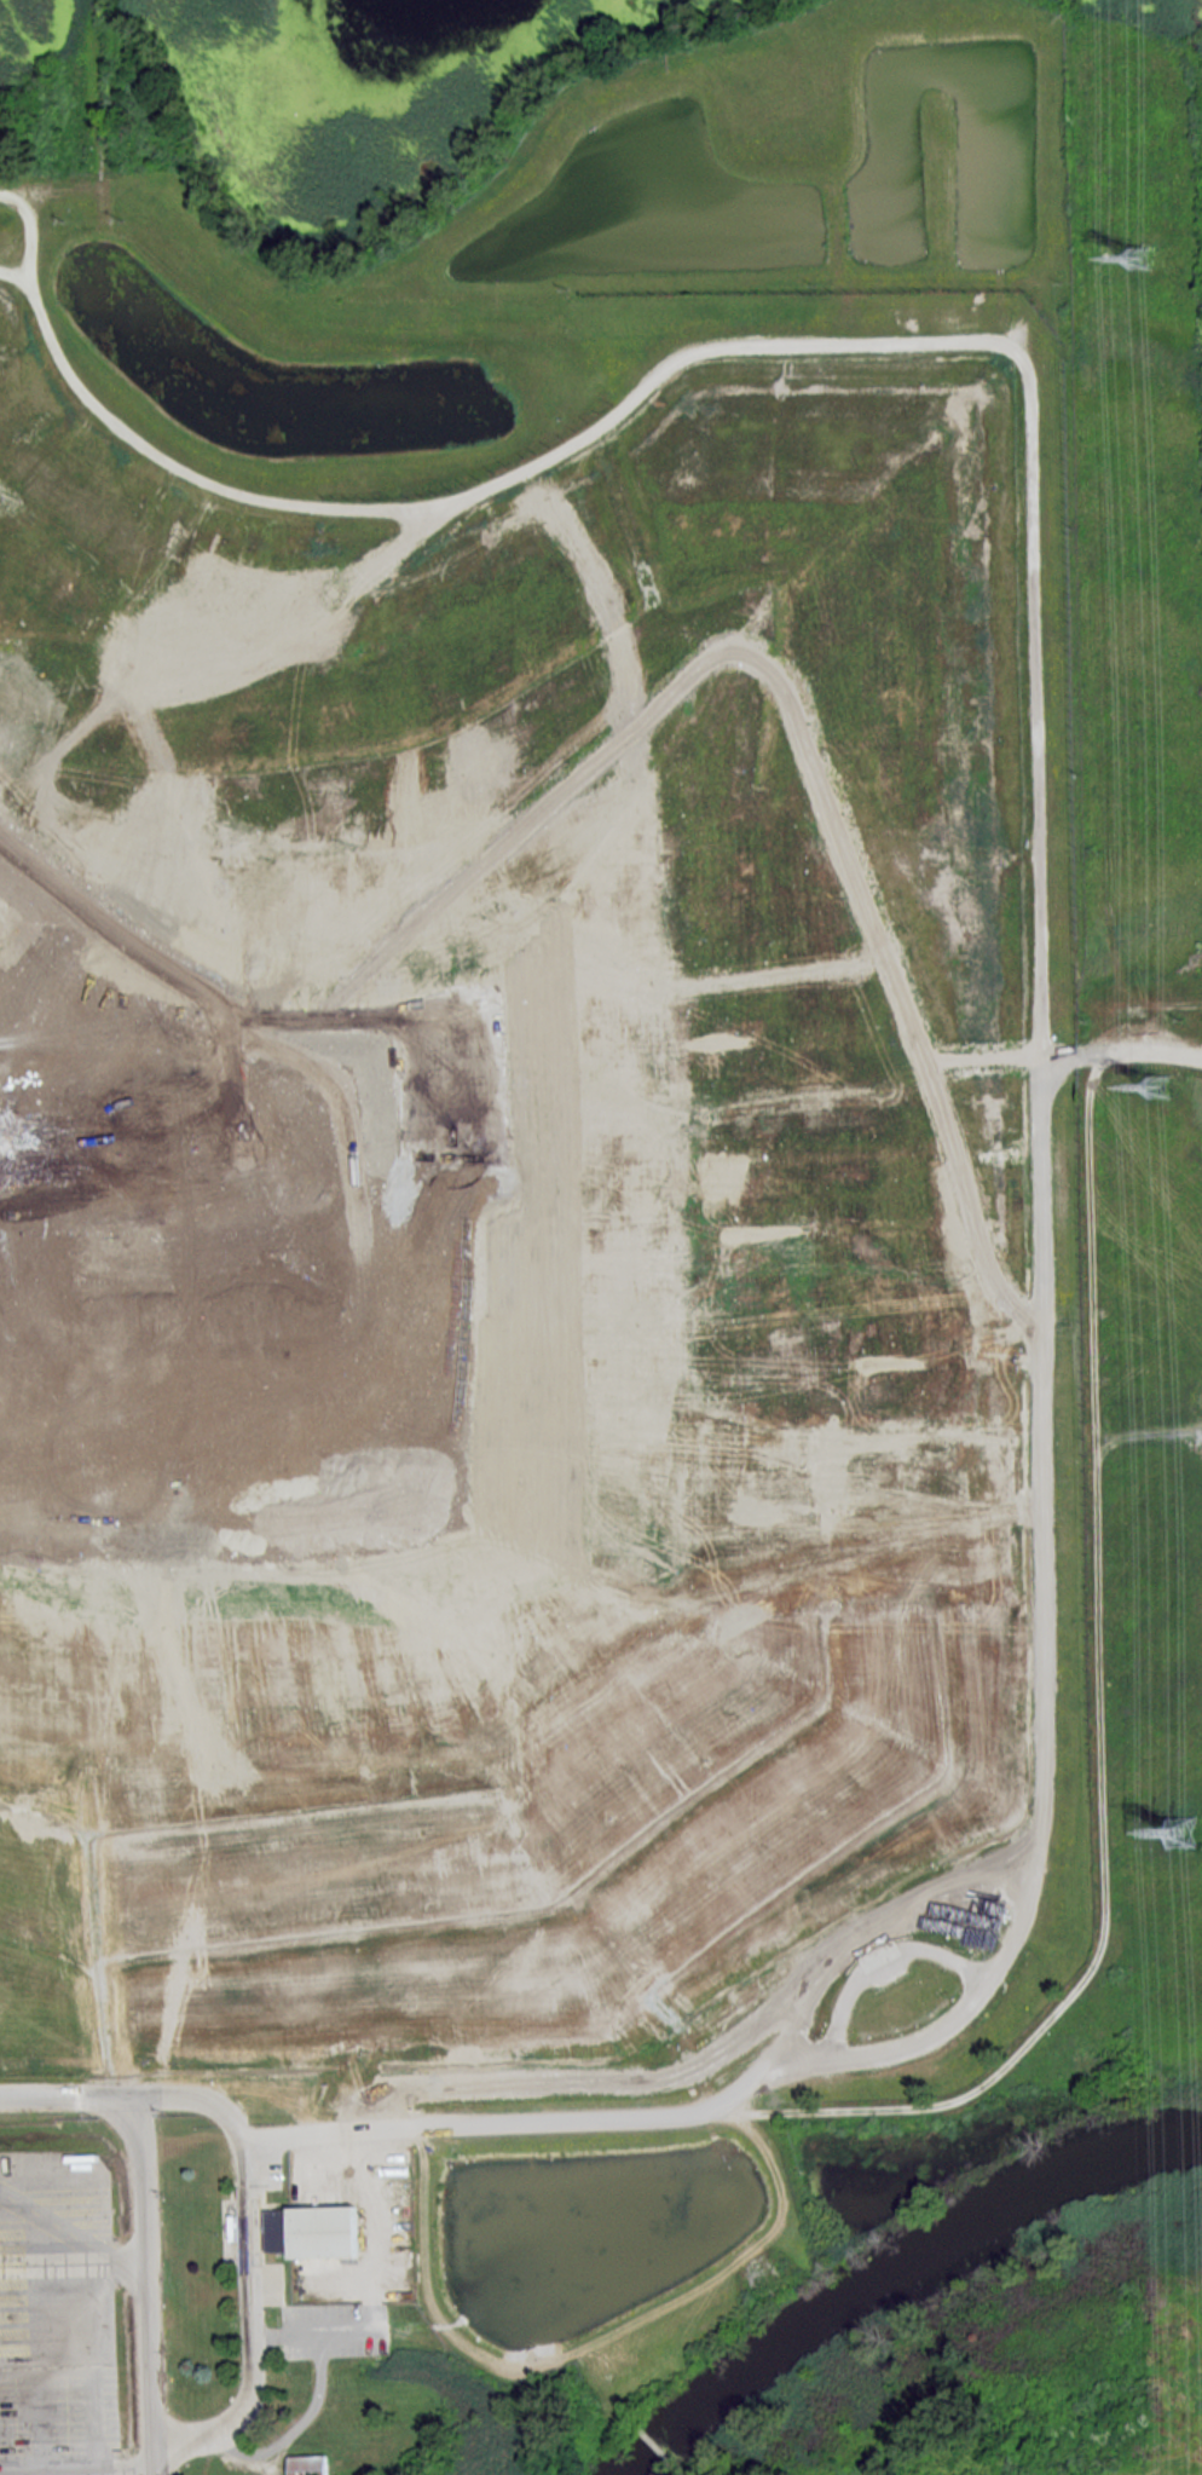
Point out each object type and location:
power tower: (1134, 259)
road: (428, 506)
power tower: (1161, 1085)
landfill: (612, 1103)
power tower: (1190, 1819)
road: (77, 2094)
building: (307, 2229)
road: (70, 2234)
road: (148, 2300)
parking lot: (74, 2302)
road: (89, 2375)
building: (308, 2464)
road: (126, 2465)
road: (48, 2467)

